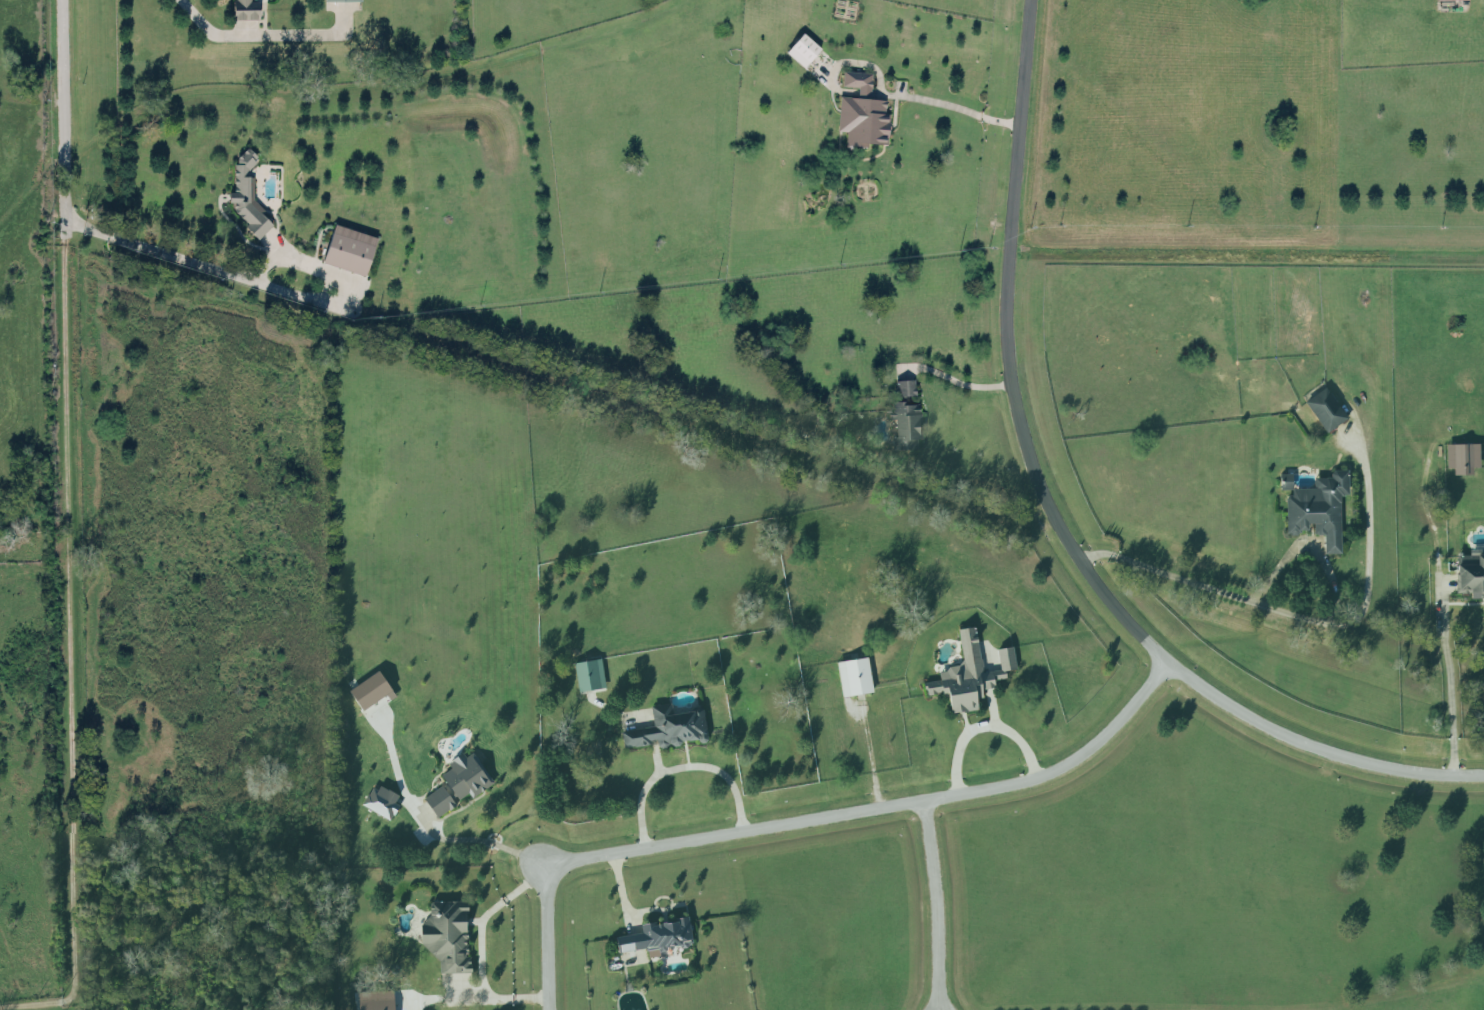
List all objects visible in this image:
building: (245, 8)
road: (196, 14)
building: (802, 47)
road: (955, 104)
building: (861, 110)
road: (61, 119)
building: (247, 191)
building: (348, 247)
road: (240, 273)
road: (951, 377)
building: (904, 385)
building: (1326, 411)
building: (905, 424)
building: (1462, 459)
building: (1319, 510)
road: (1053, 519)
road: (1366, 553)
building: (1470, 576)
road: (1283, 613)
road: (1442, 618)
road: (68, 621)
building: (969, 675)
building: (590, 676)
building: (855, 678)
building: (370, 692)
road: (982, 726)
building: (670, 730)
road: (681, 770)
building: (460, 785)
building: (381, 803)
road: (877, 810)
road: (480, 845)
road: (936, 906)
park: (213, 920)
building: (448, 936)
road: (545, 938)
building: (658, 939)
road: (476, 948)
building: (376, 1001)
road: (37, 1005)

